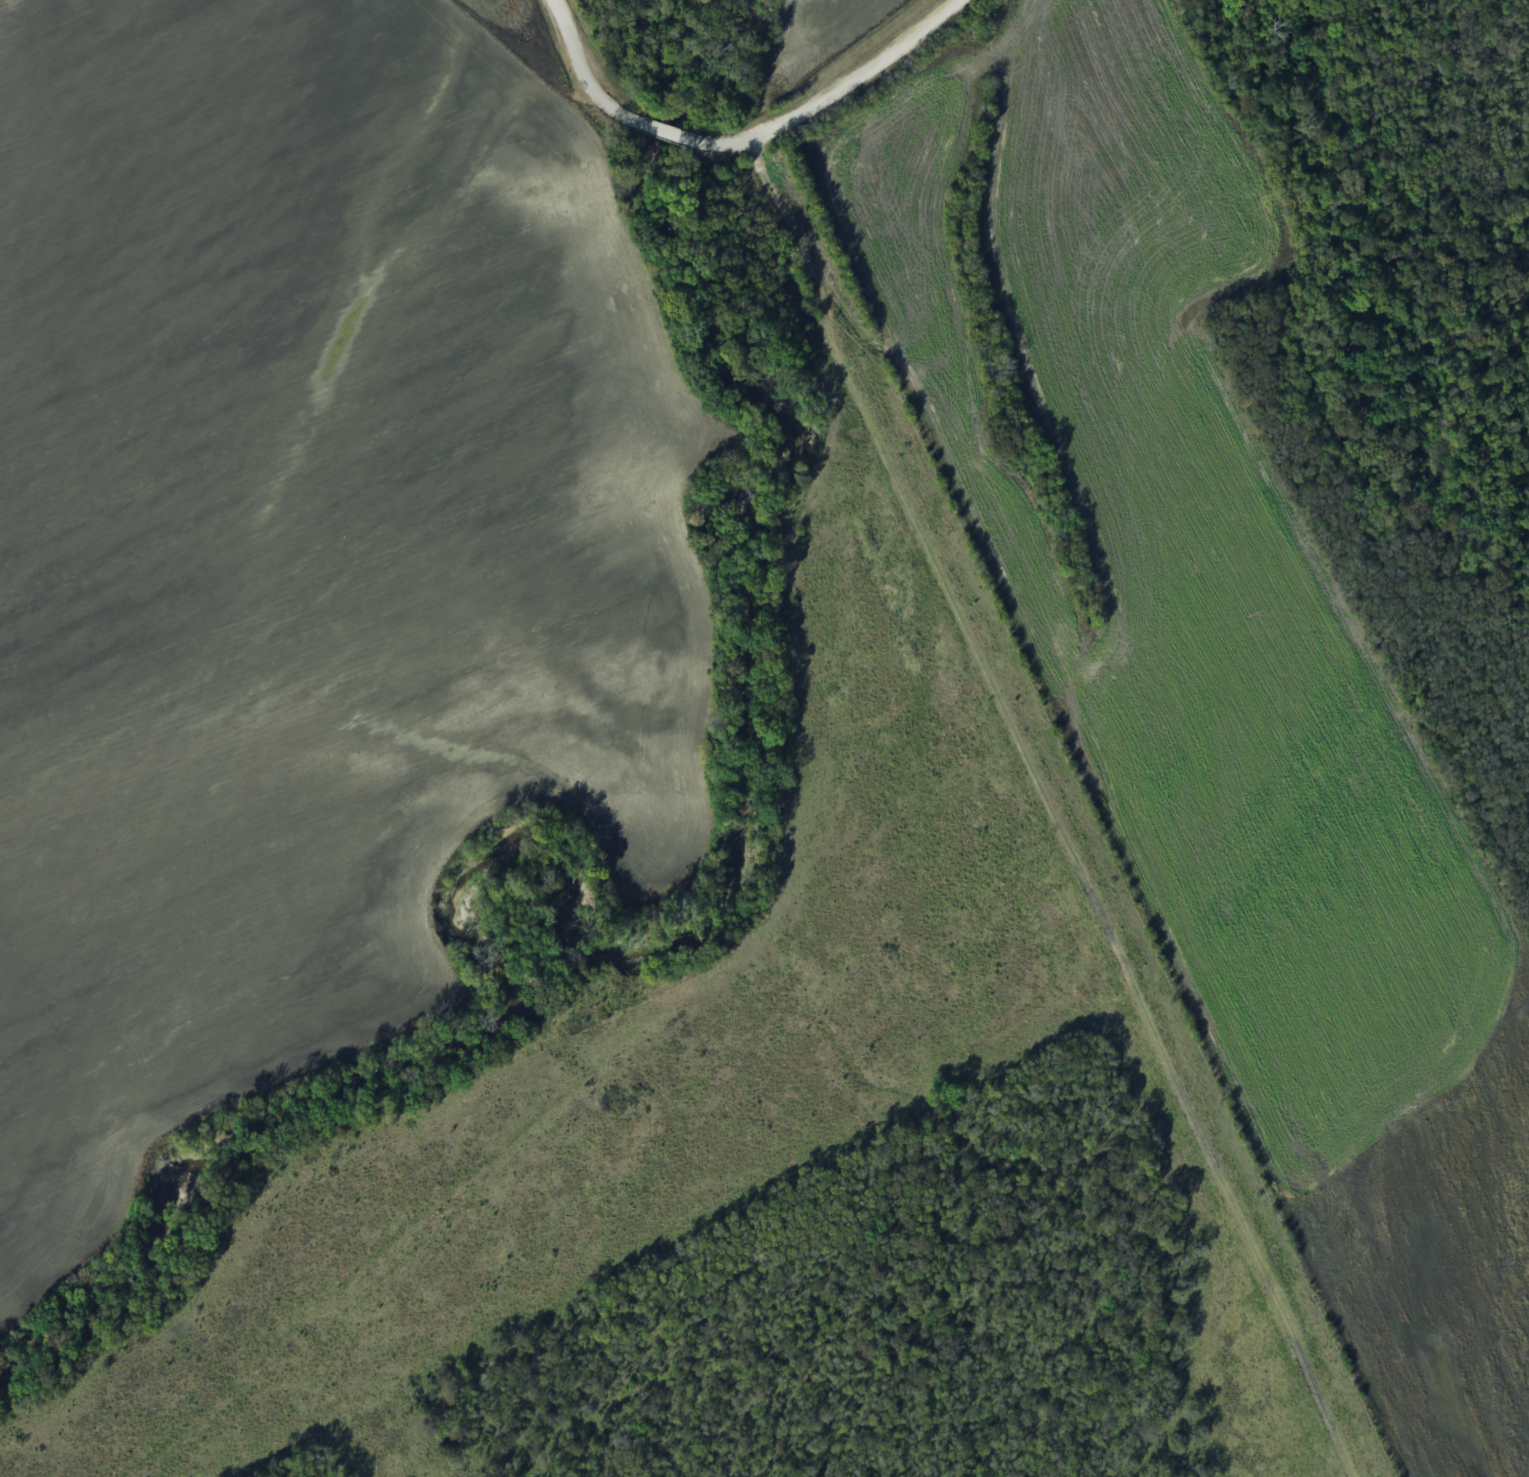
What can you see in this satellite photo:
road: (584, 73)
road: (827, 96)
road: (664, 131)

